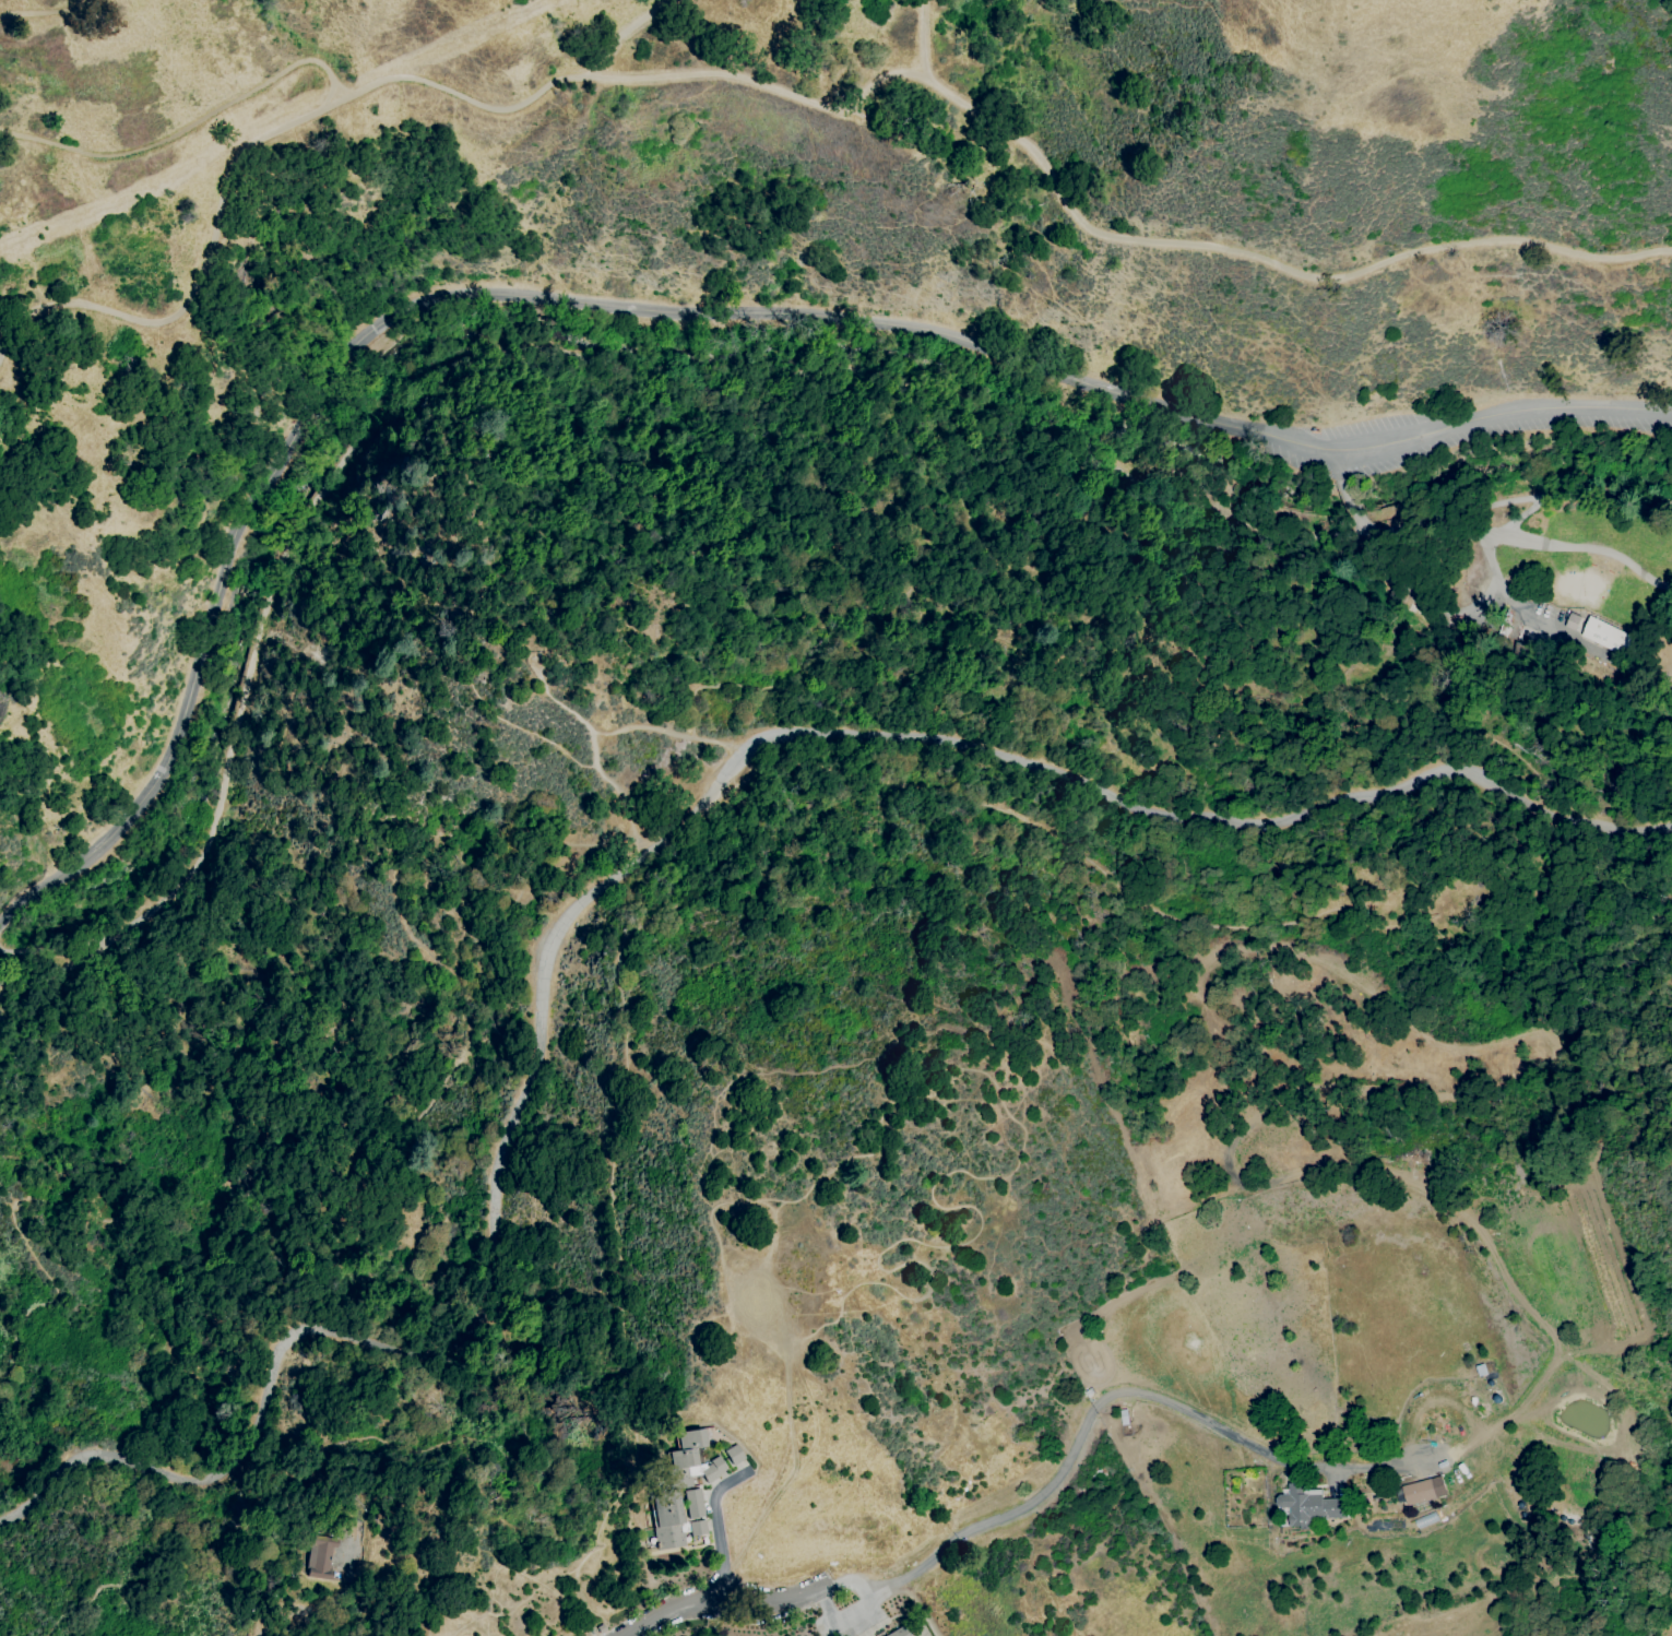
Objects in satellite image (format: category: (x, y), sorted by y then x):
road: (50, 21)
road: (629, 34)
road: (921, 39)
road: (631, 75)
road: (185, 128)
road: (1267, 261)
road: (201, 273)
road: (668, 313)
road: (699, 379)
parking lot: (1463, 432)
road: (466, 463)
road: (1339, 467)
road: (1352, 503)
road: (820, 518)
road: (1363, 529)
road: (1555, 544)
park: (1581, 589)
building: (1392, 596)
building: (1572, 621)
building: (1610, 637)
road: (1146, 644)
building: (1517, 648)
park: (726, 657)
road: (668, 731)
road: (591, 749)
road: (637, 862)
road: (1199, 926)
road: (59, 949)
road: (28, 988)
road: (200, 1053)
road: (348, 1104)
road: (614, 1188)
building: (691, 1439)
building: (735, 1455)
building: (683, 1459)
building: (719, 1465)
building: (708, 1472)
building: (1103, 1475)
building: (681, 1477)
building: (1077, 1489)
building: (1422, 1490)
road: (1040, 1493)
building: (692, 1496)
building: (665, 1499)
building: (1307, 1505)
building: (695, 1510)
building: (668, 1517)
road: (716, 1521)
building: (677, 1534)
building: (320, 1557)
road: (842, 1617)
road: (260, 1624)
building: (601, 1628)
building: (899, 1632)
building: (687, 1635)

